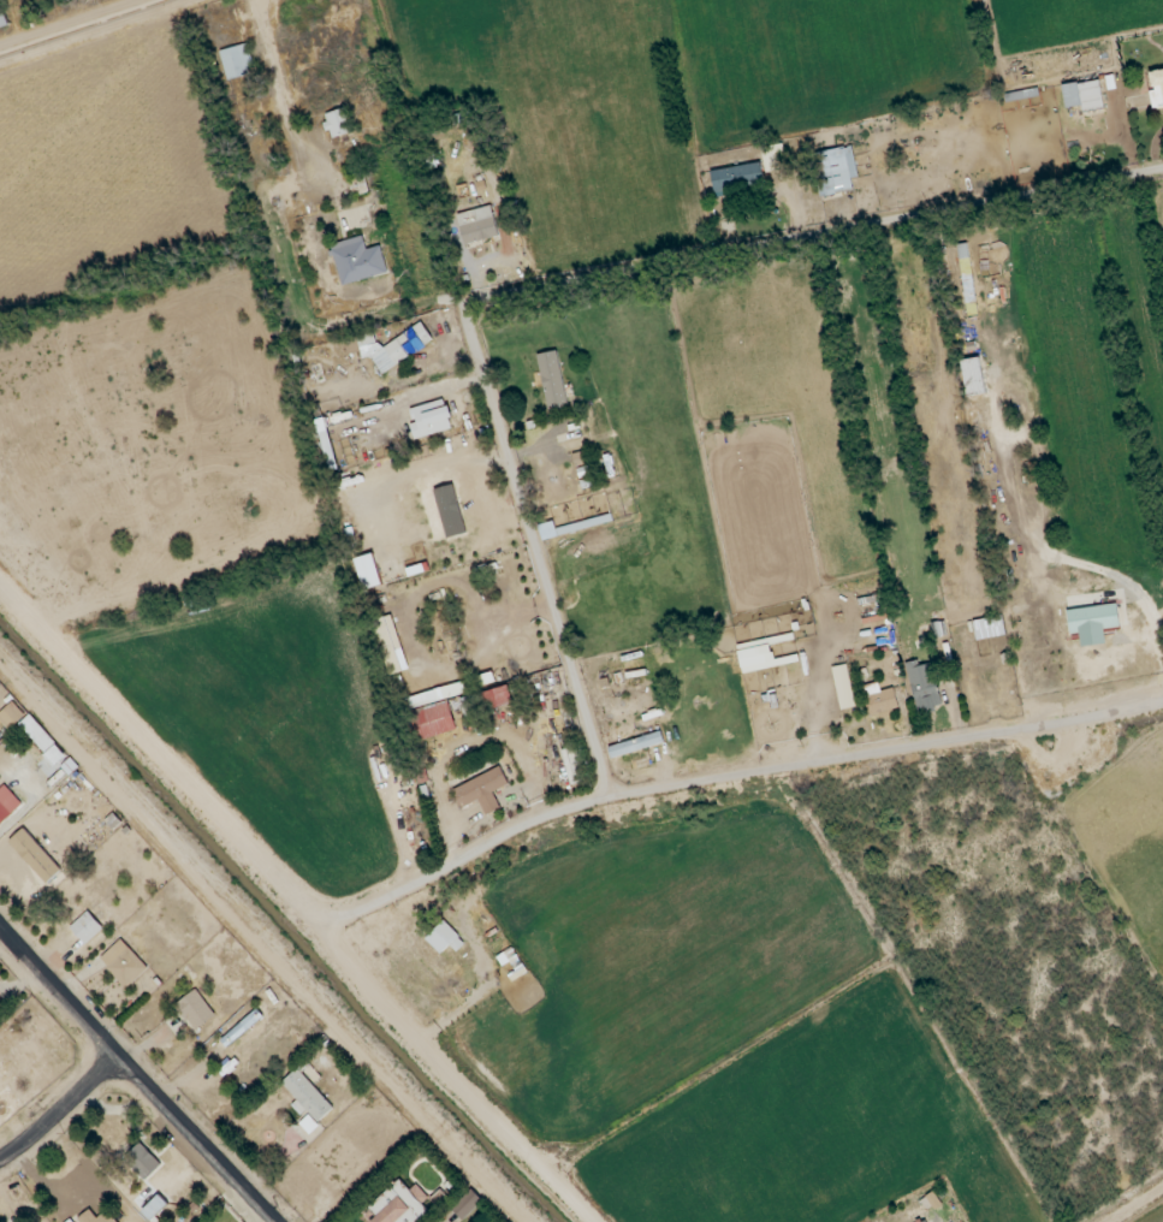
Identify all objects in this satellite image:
building: (2, 24)
building: (237, 61)
building: (1156, 89)
building: (1084, 96)
building: (338, 123)
building: (773, 159)
building: (835, 171)
building: (737, 179)
building: (357, 186)
building: (477, 226)
building: (357, 261)
road: (544, 272)
building: (394, 348)
building: (973, 376)
building: (552, 380)
road: (429, 390)
building: (431, 420)
building: (581, 459)
building: (565, 528)
building: (368, 571)
building: (1092, 623)
building: (989, 628)
building: (387, 651)
building: (843, 687)
building: (924, 689)
building: (445, 693)
building: (879, 699)
building: (487, 701)
building: (11, 716)
building: (429, 722)
road: (173, 731)
building: (43, 742)
building: (635, 745)
road: (731, 773)
building: (482, 791)
building: (7, 805)
building: (35, 856)
building: (85, 927)
building: (444, 939)
building: (123, 963)
building: (195, 1010)
building: (242, 1028)
road: (458, 1070)
road: (135, 1076)
building: (307, 1097)
road: (59, 1111)
building: (309, 1125)
building: (142, 1162)
building: (467, 1204)
building: (398, 1205)
building: (154, 1208)
building: (88, 1215)

